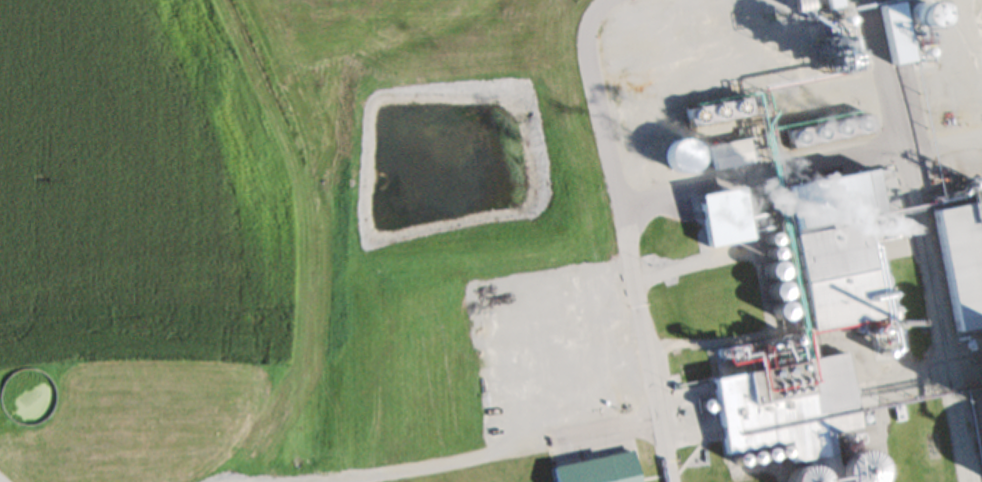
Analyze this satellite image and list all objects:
building: (882, 129)
building: (683, 160)
building: (724, 160)
road: (672, 202)
building: (829, 255)
building: (960, 269)
road: (928, 319)
building: (776, 407)
road: (481, 454)
building: (597, 472)

